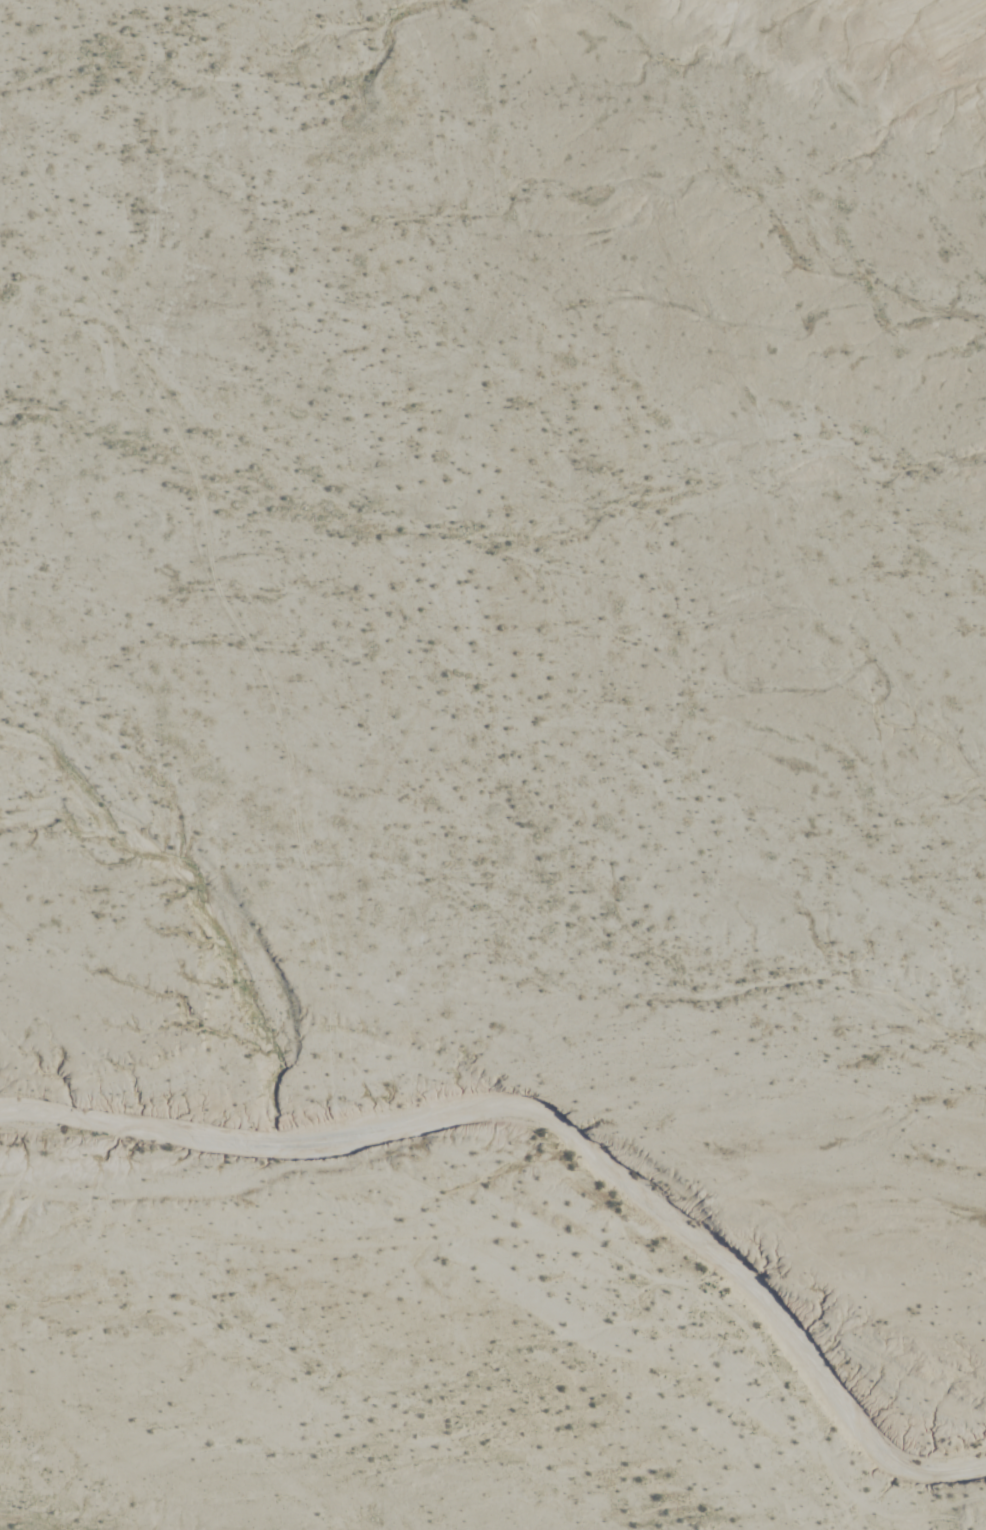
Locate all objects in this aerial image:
road: (559, 1134)

